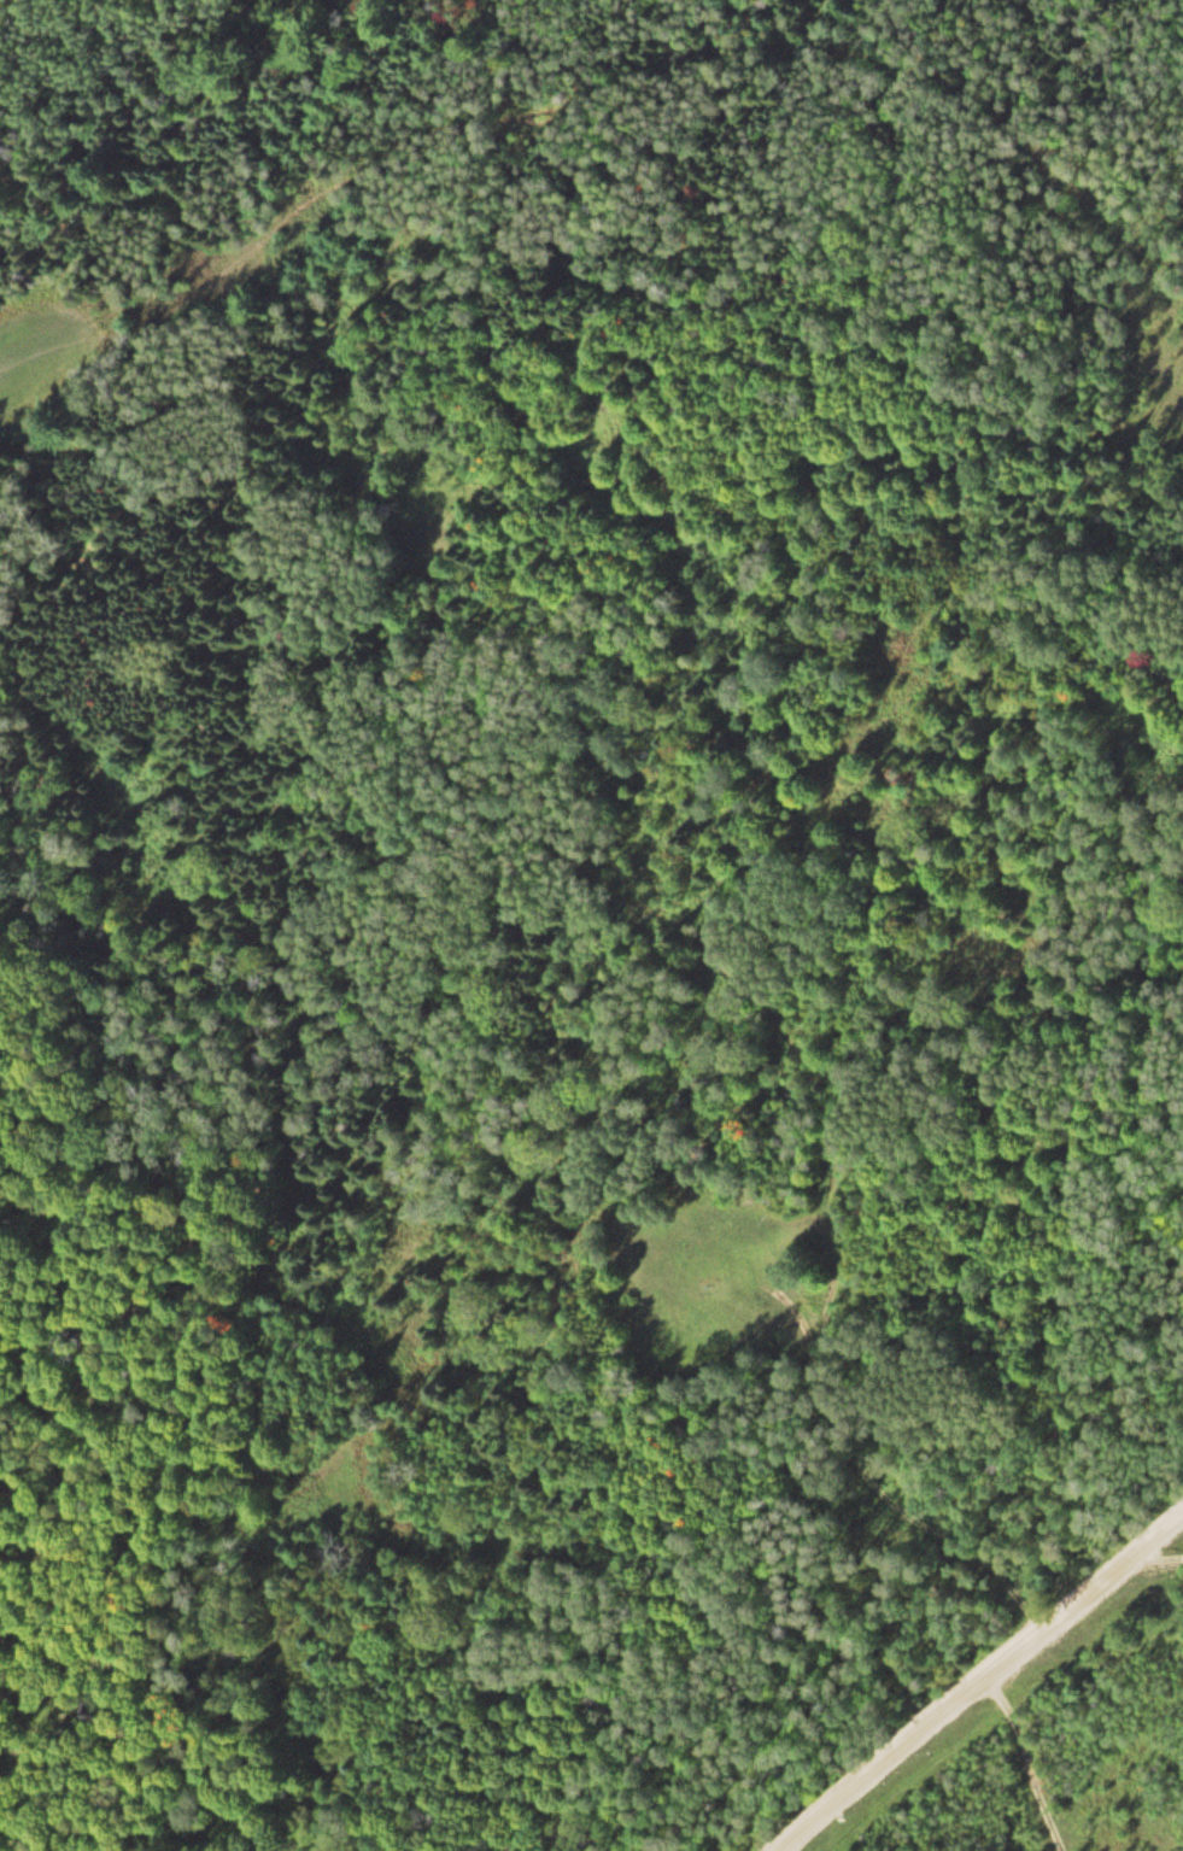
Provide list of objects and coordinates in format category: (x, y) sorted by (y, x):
road: (982, 1686)

